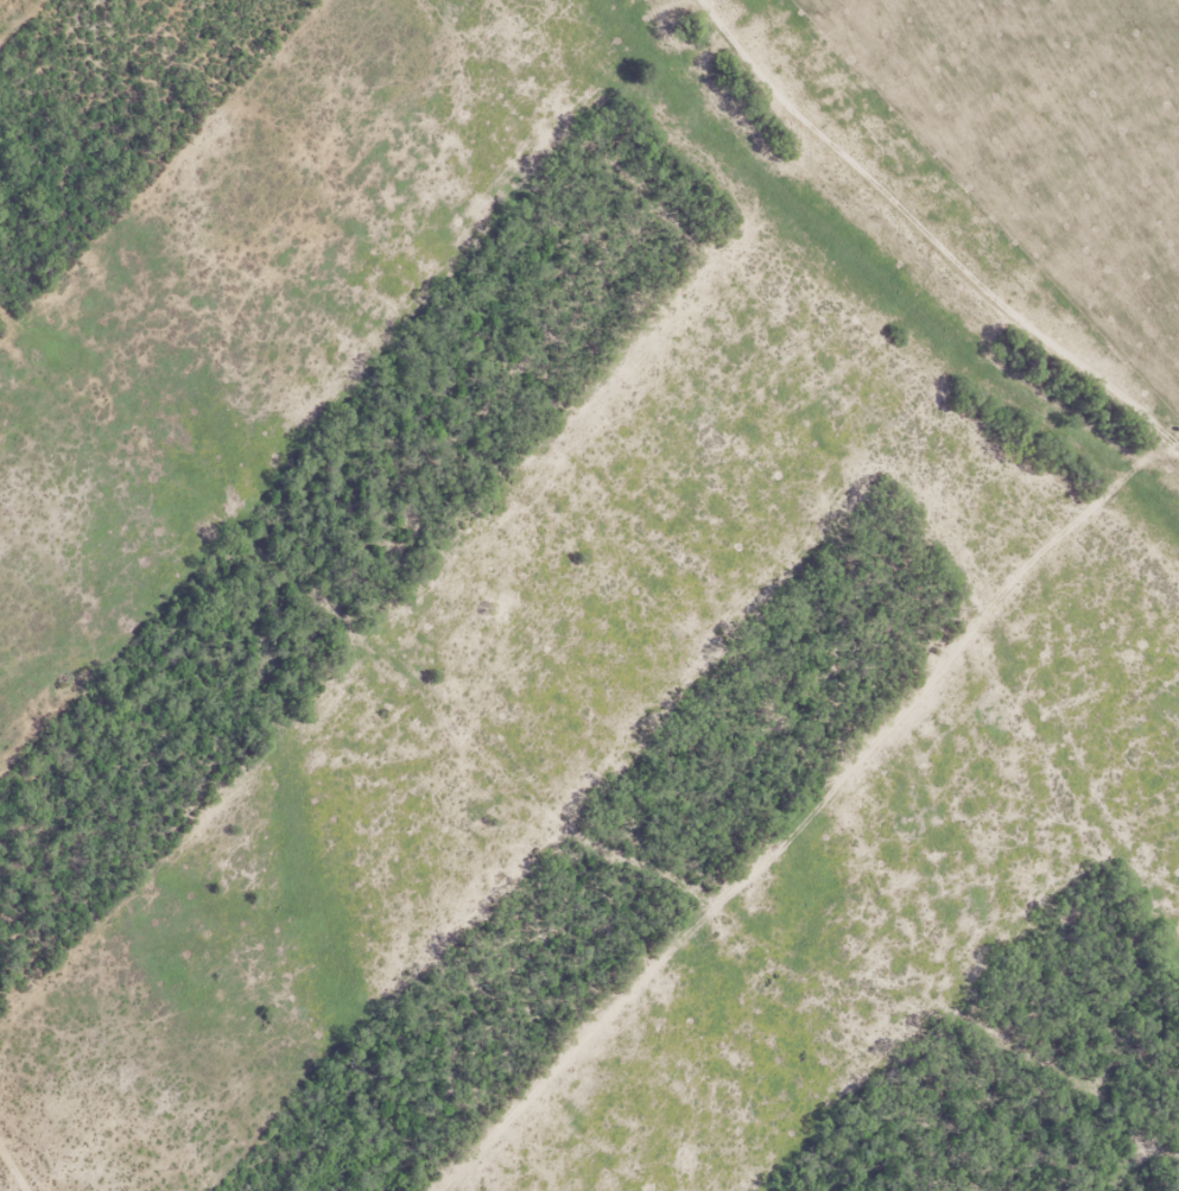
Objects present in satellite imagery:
road: (1126, 1172)

